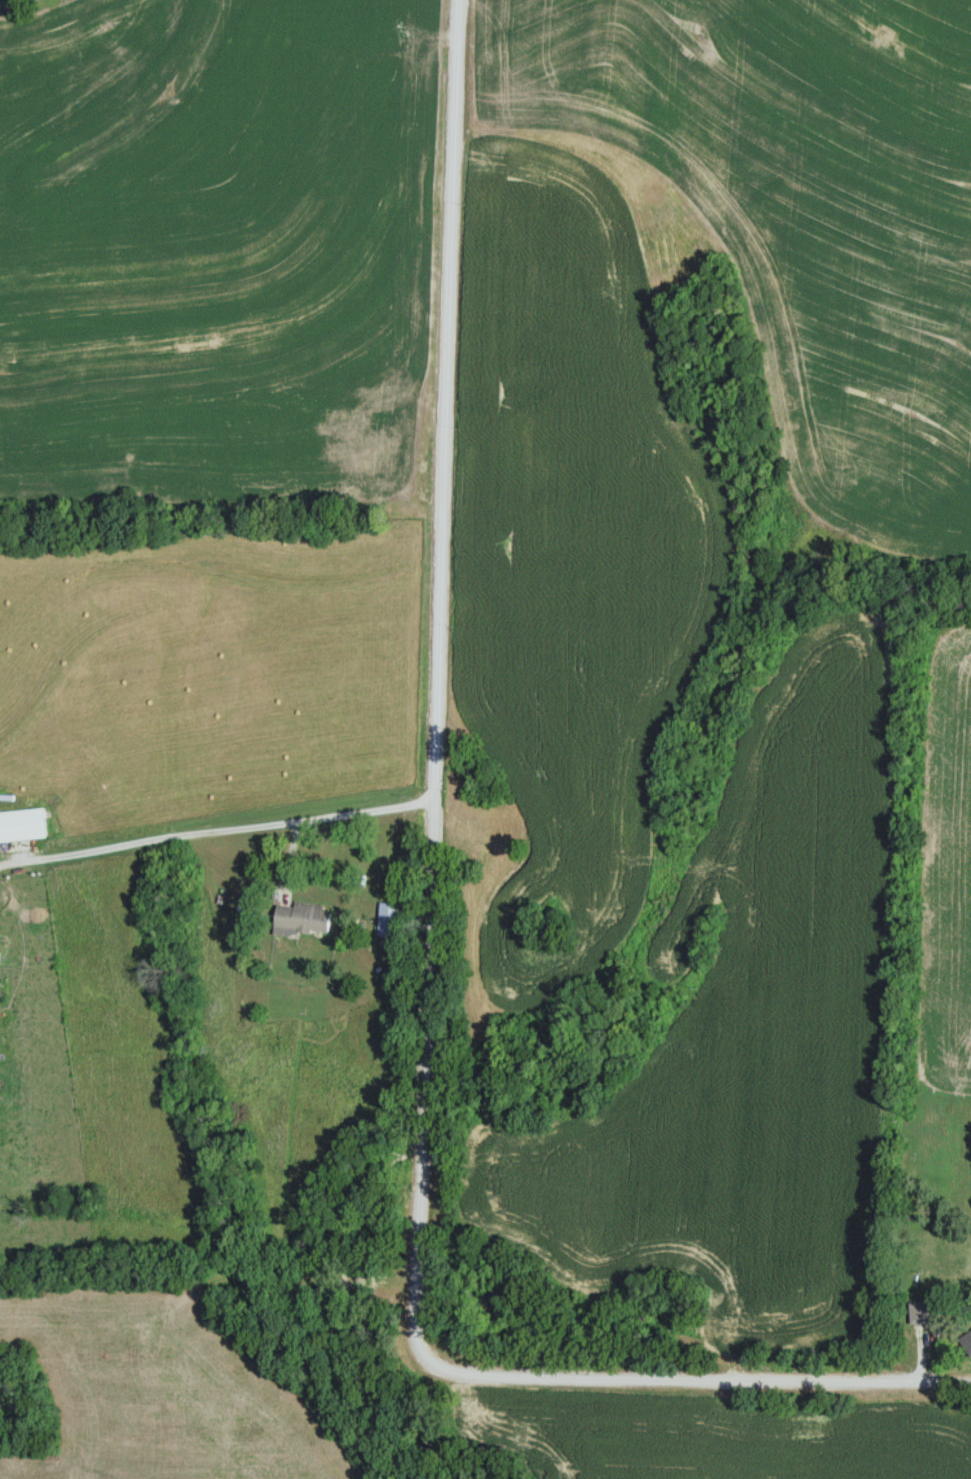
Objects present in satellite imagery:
building: (23, 825)
road: (216, 830)
building: (305, 918)
building: (391, 920)
building: (0, 958)
road: (428, 964)
building: (928, 1312)
building: (967, 1341)

